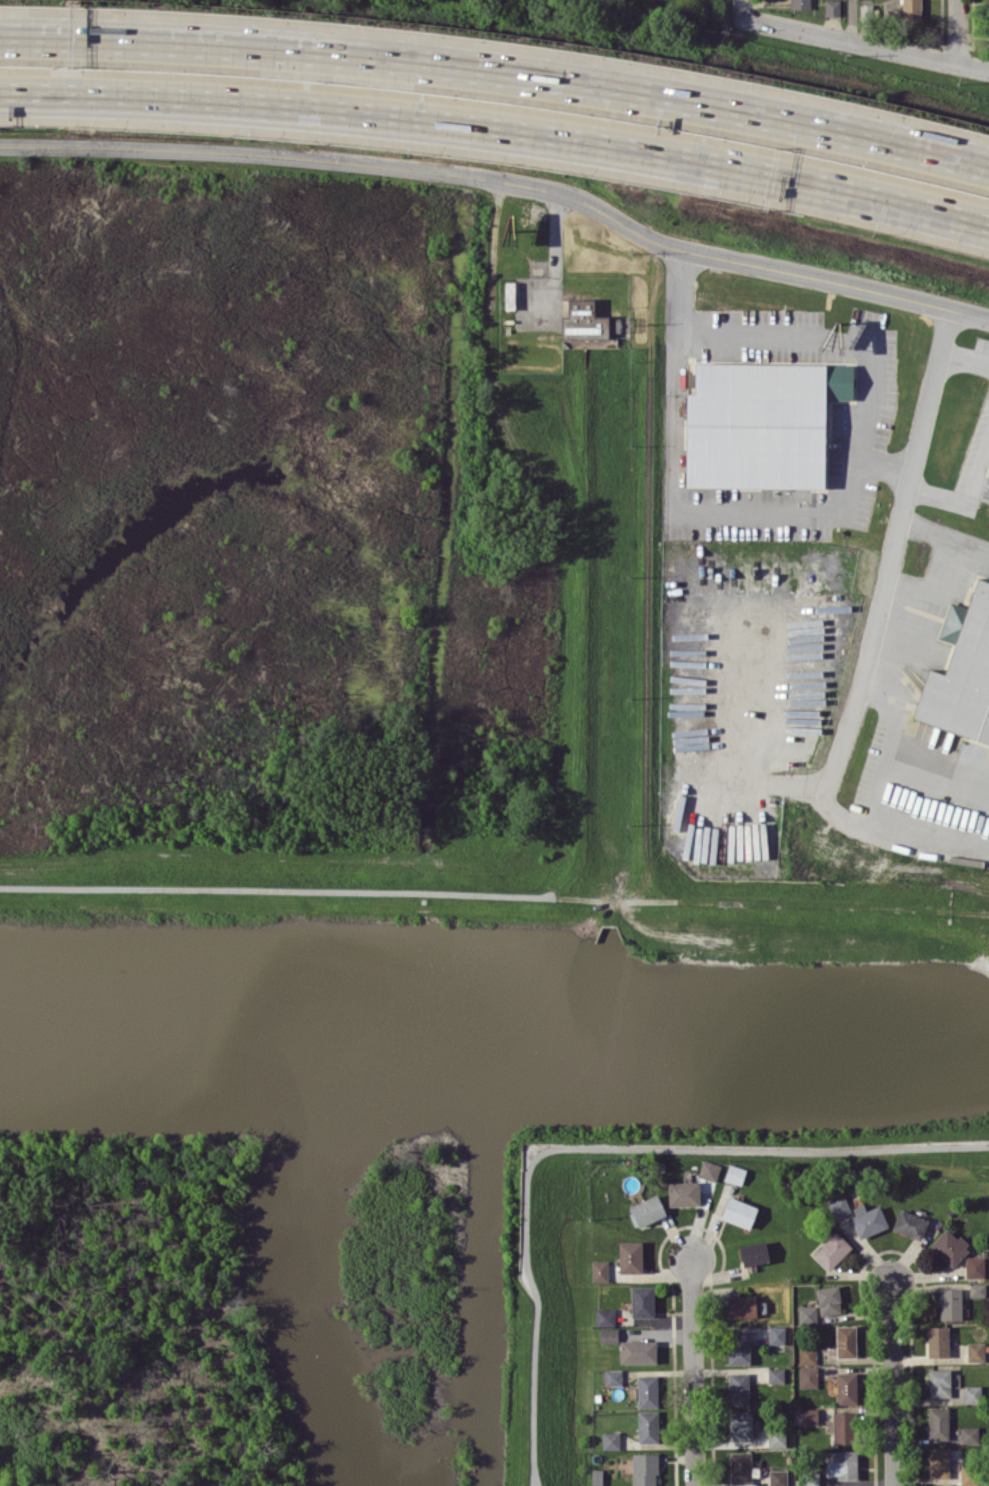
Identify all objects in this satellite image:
building: (799, 4)
building: (831, 7)
road: (741, 8)
building: (868, 9)
building: (911, 9)
road: (851, 20)
road: (957, 32)
road: (865, 43)
road: (498, 71)
road: (498, 131)
road: (333, 161)
road: (821, 278)
building: (511, 295)
building: (583, 321)
road: (824, 334)
road: (964, 360)
building: (761, 423)
road: (982, 458)
building: (988, 476)
road: (982, 482)
road: (943, 498)
road: (680, 510)
road: (945, 535)
park: (233, 540)
road: (871, 641)
building: (961, 672)
road: (278, 890)
river: (495, 1036)
road: (595, 1146)
building: (709, 1170)
building: (735, 1174)
building: (683, 1193)
building: (839, 1206)
building: (647, 1210)
building: (739, 1212)
building: (868, 1220)
building: (909, 1223)
building: (950, 1247)
building: (832, 1250)
building: (754, 1252)
building: (630, 1256)
building: (974, 1266)
building: (600, 1270)
building: (977, 1290)
building: (642, 1300)
building: (828, 1300)
building: (950, 1303)
building: (742, 1306)
building: (807, 1314)
building: (605, 1317)
building: (776, 1334)
building: (608, 1335)
building: (845, 1341)
building: (938, 1341)
building: (739, 1347)
building: (637, 1351)
building: (975, 1351)
building: (807, 1354)
road: (693, 1371)
building: (776, 1374)
building: (613, 1377)
building: (808, 1377)
building: (939, 1382)
road: (893, 1384)
building: (846, 1387)
building: (738, 1388)
building: (647, 1391)
building: (972, 1394)
building: (808, 1416)
building: (938, 1423)
building: (648, 1426)
building: (740, 1426)
building: (841, 1427)
building: (969, 1434)
building: (776, 1439)
building: (611, 1440)
building: (938, 1462)
building: (844, 1465)
building: (740, 1467)
building: (644, 1469)
building: (968, 1475)
road: (537, 1476)
building: (597, 1476)
building: (778, 1477)
building: (810, 1477)

